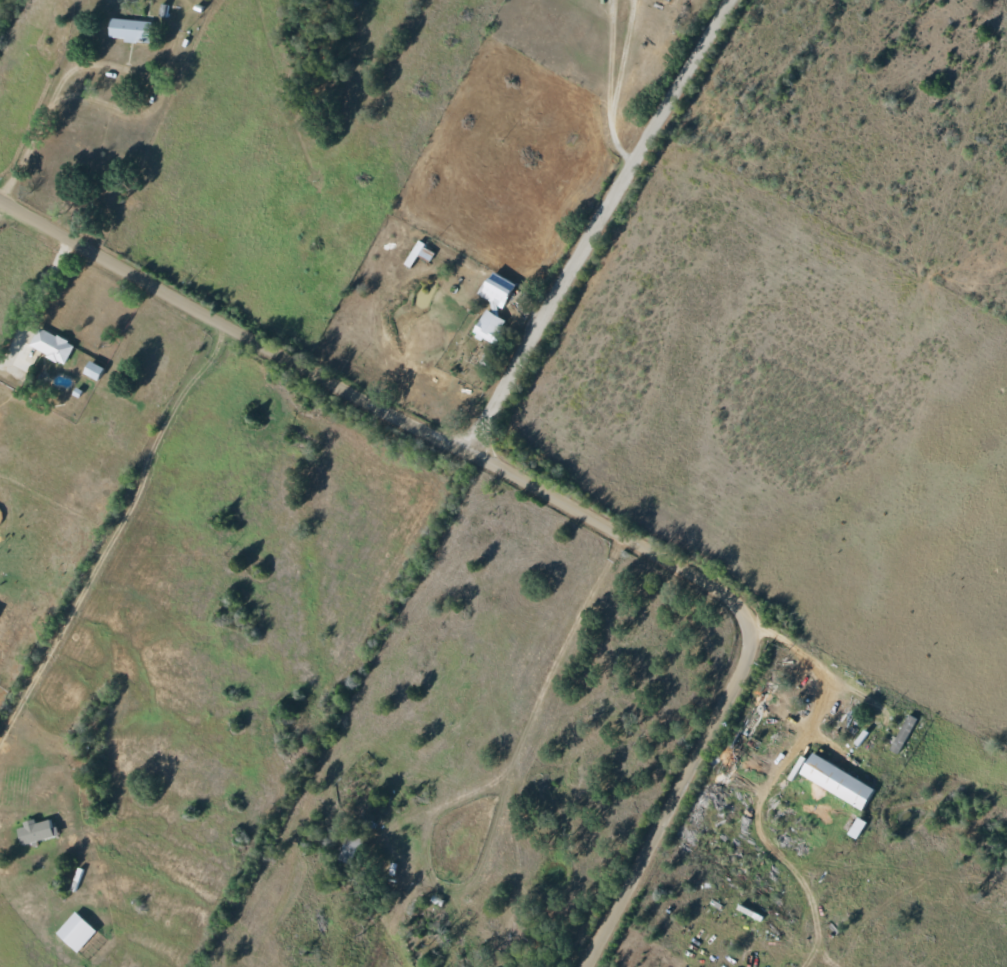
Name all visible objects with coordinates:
road: (613, 12)
building: (128, 30)
road: (149, 86)
road: (569, 139)
road: (28, 149)
road: (125, 216)
road: (12, 231)
road: (509, 278)
building: (491, 306)
road: (232, 332)
building: (50, 345)
building: (91, 370)
road: (548, 500)
road: (112, 526)
building: (834, 781)
building: (34, 831)
building: (74, 932)

